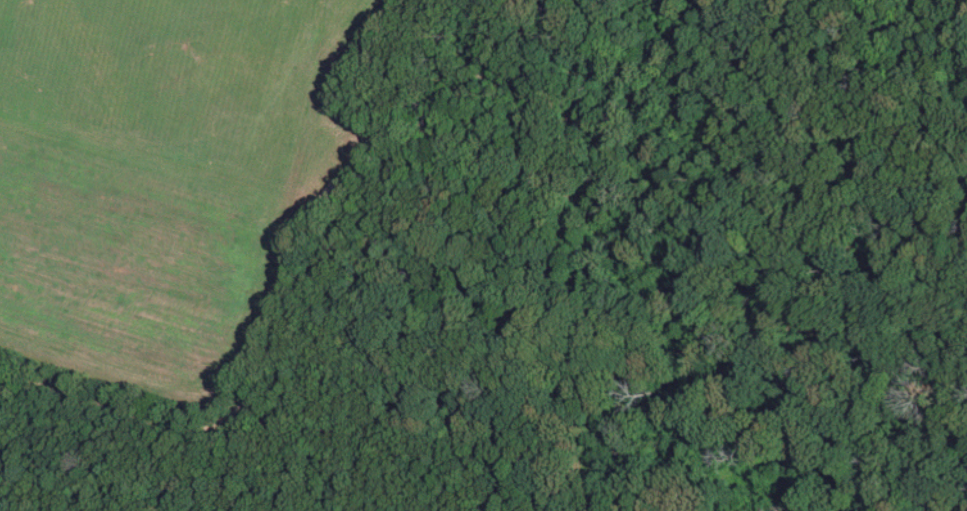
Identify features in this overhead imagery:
road: (305, 299)

